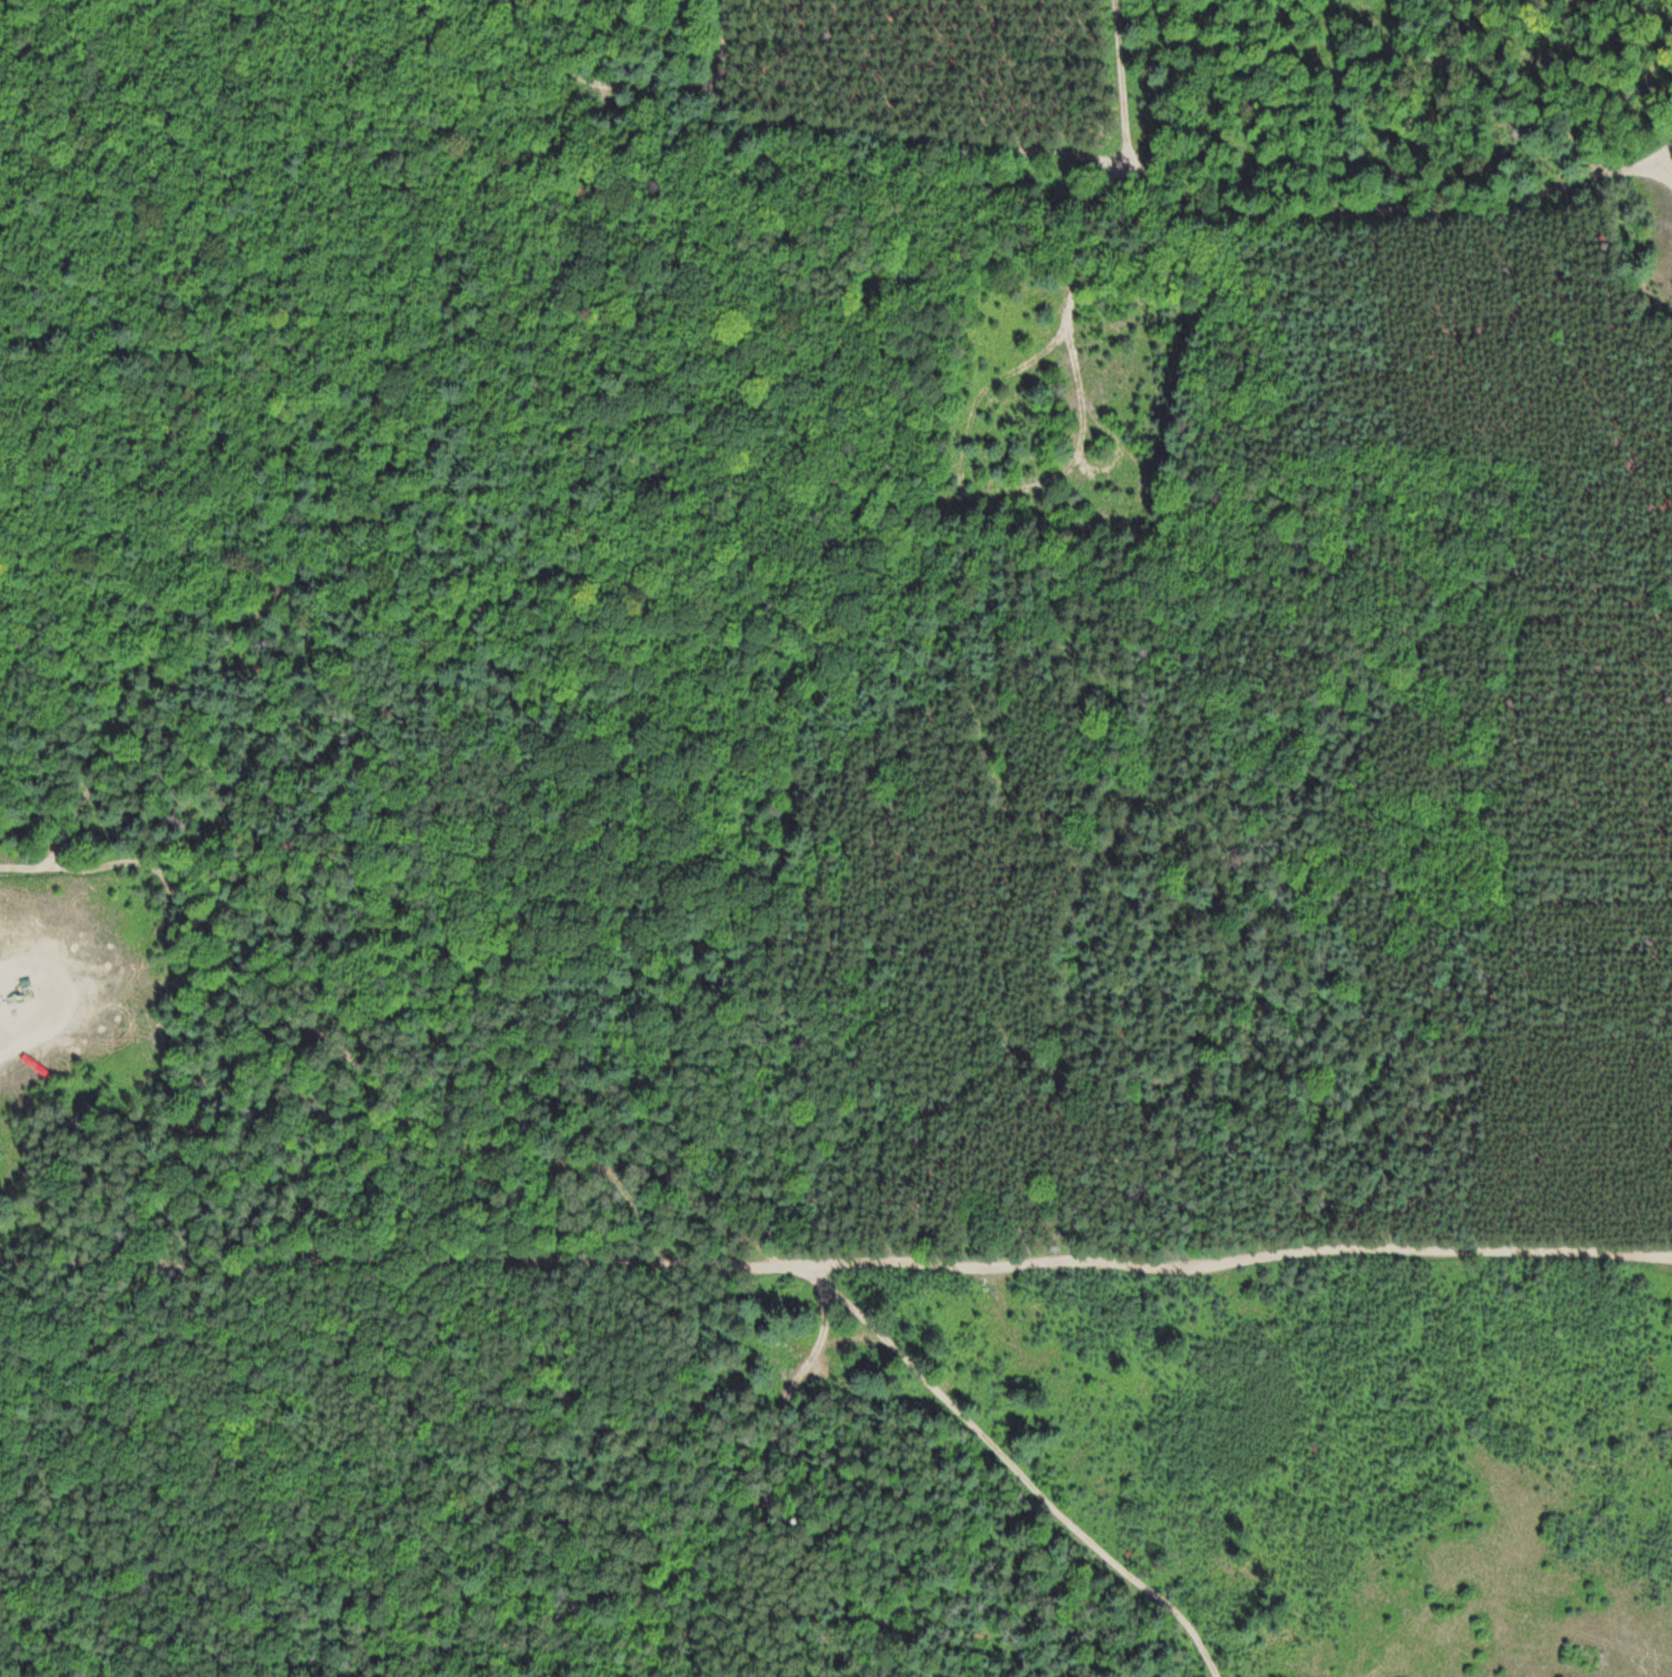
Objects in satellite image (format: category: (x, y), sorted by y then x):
road: (137, 863)
road: (52, 971)
petroleum well: (19, 988)
building: (30, 1016)
road: (30, 1039)
road: (395, 1253)
road: (888, 1263)
road: (1015, 1468)

